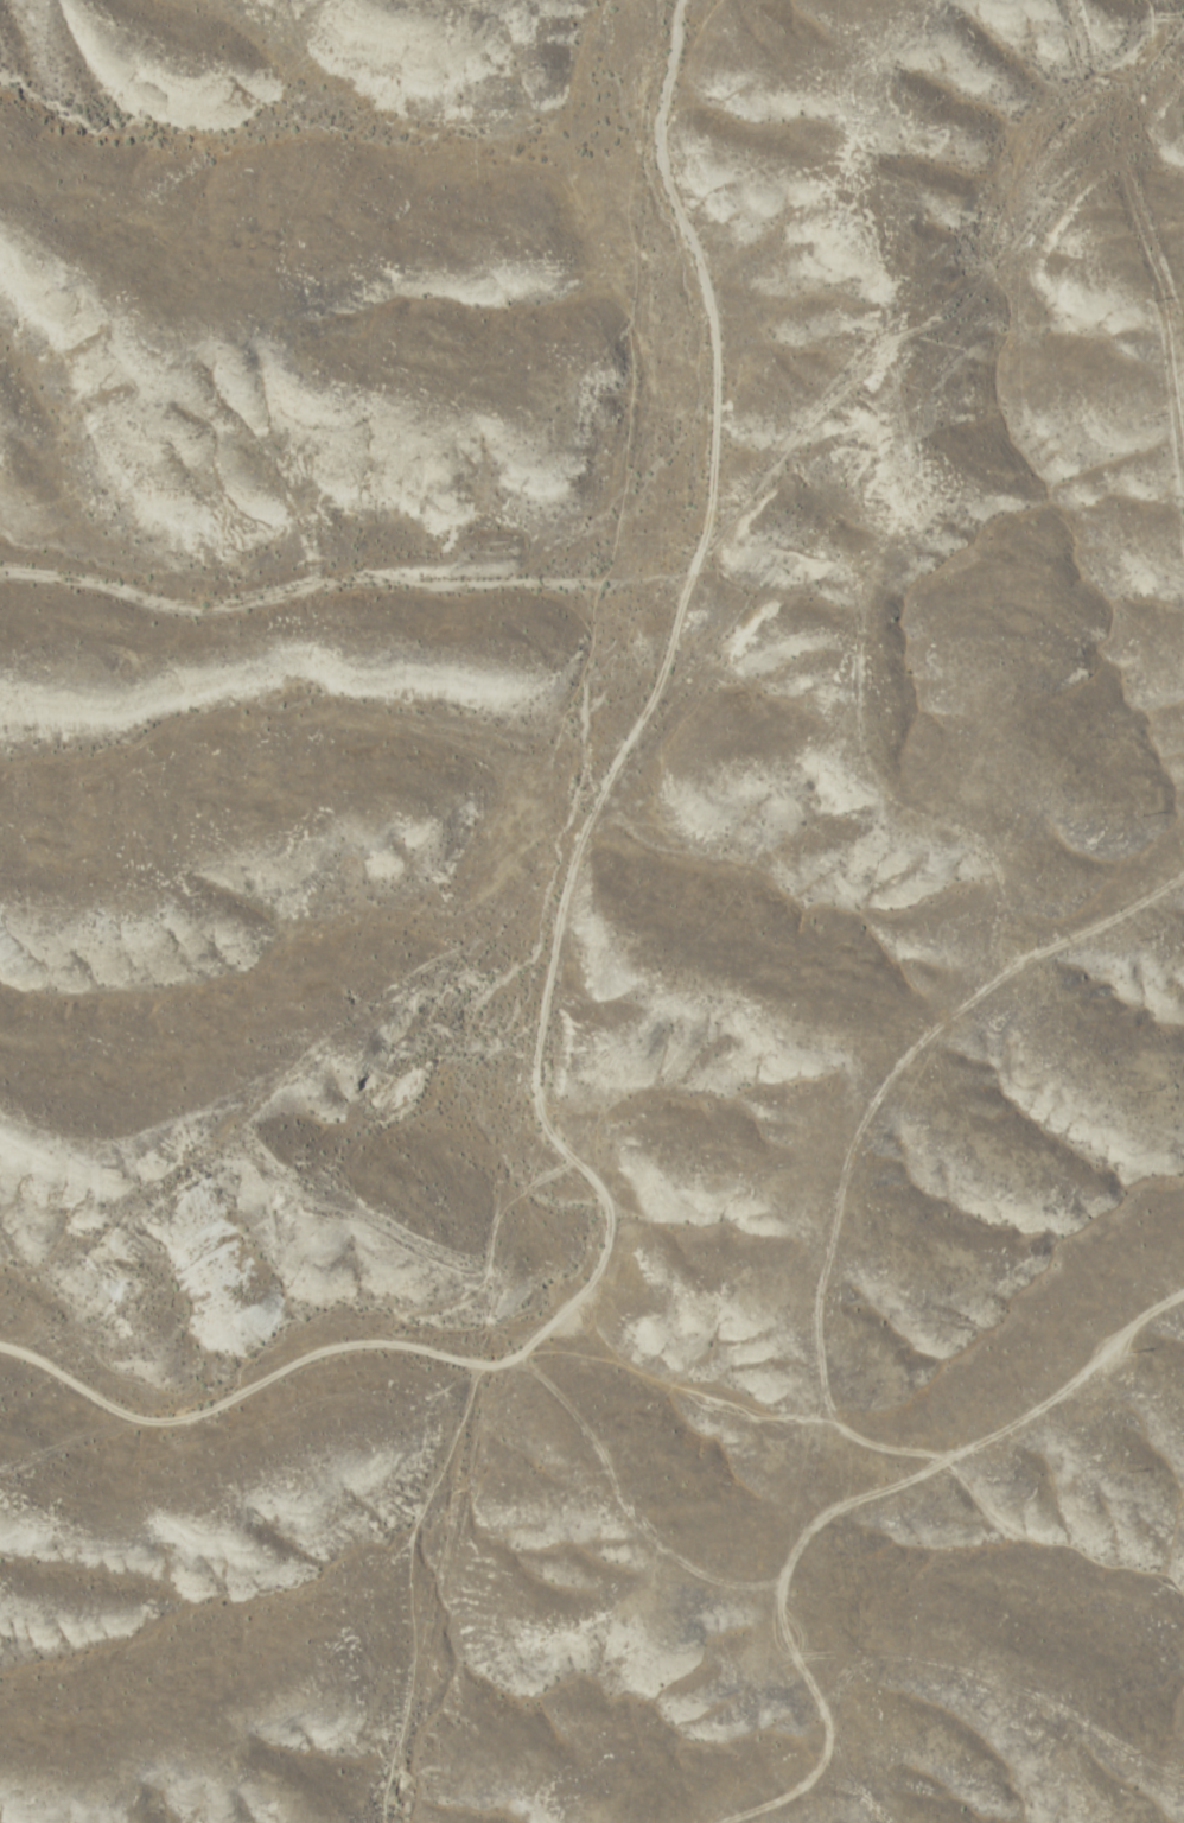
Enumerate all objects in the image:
road: (689, 262)
road: (336, 540)
road: (565, 862)
crop: (592, 913)
road: (879, 1306)
road: (1020, 1447)

